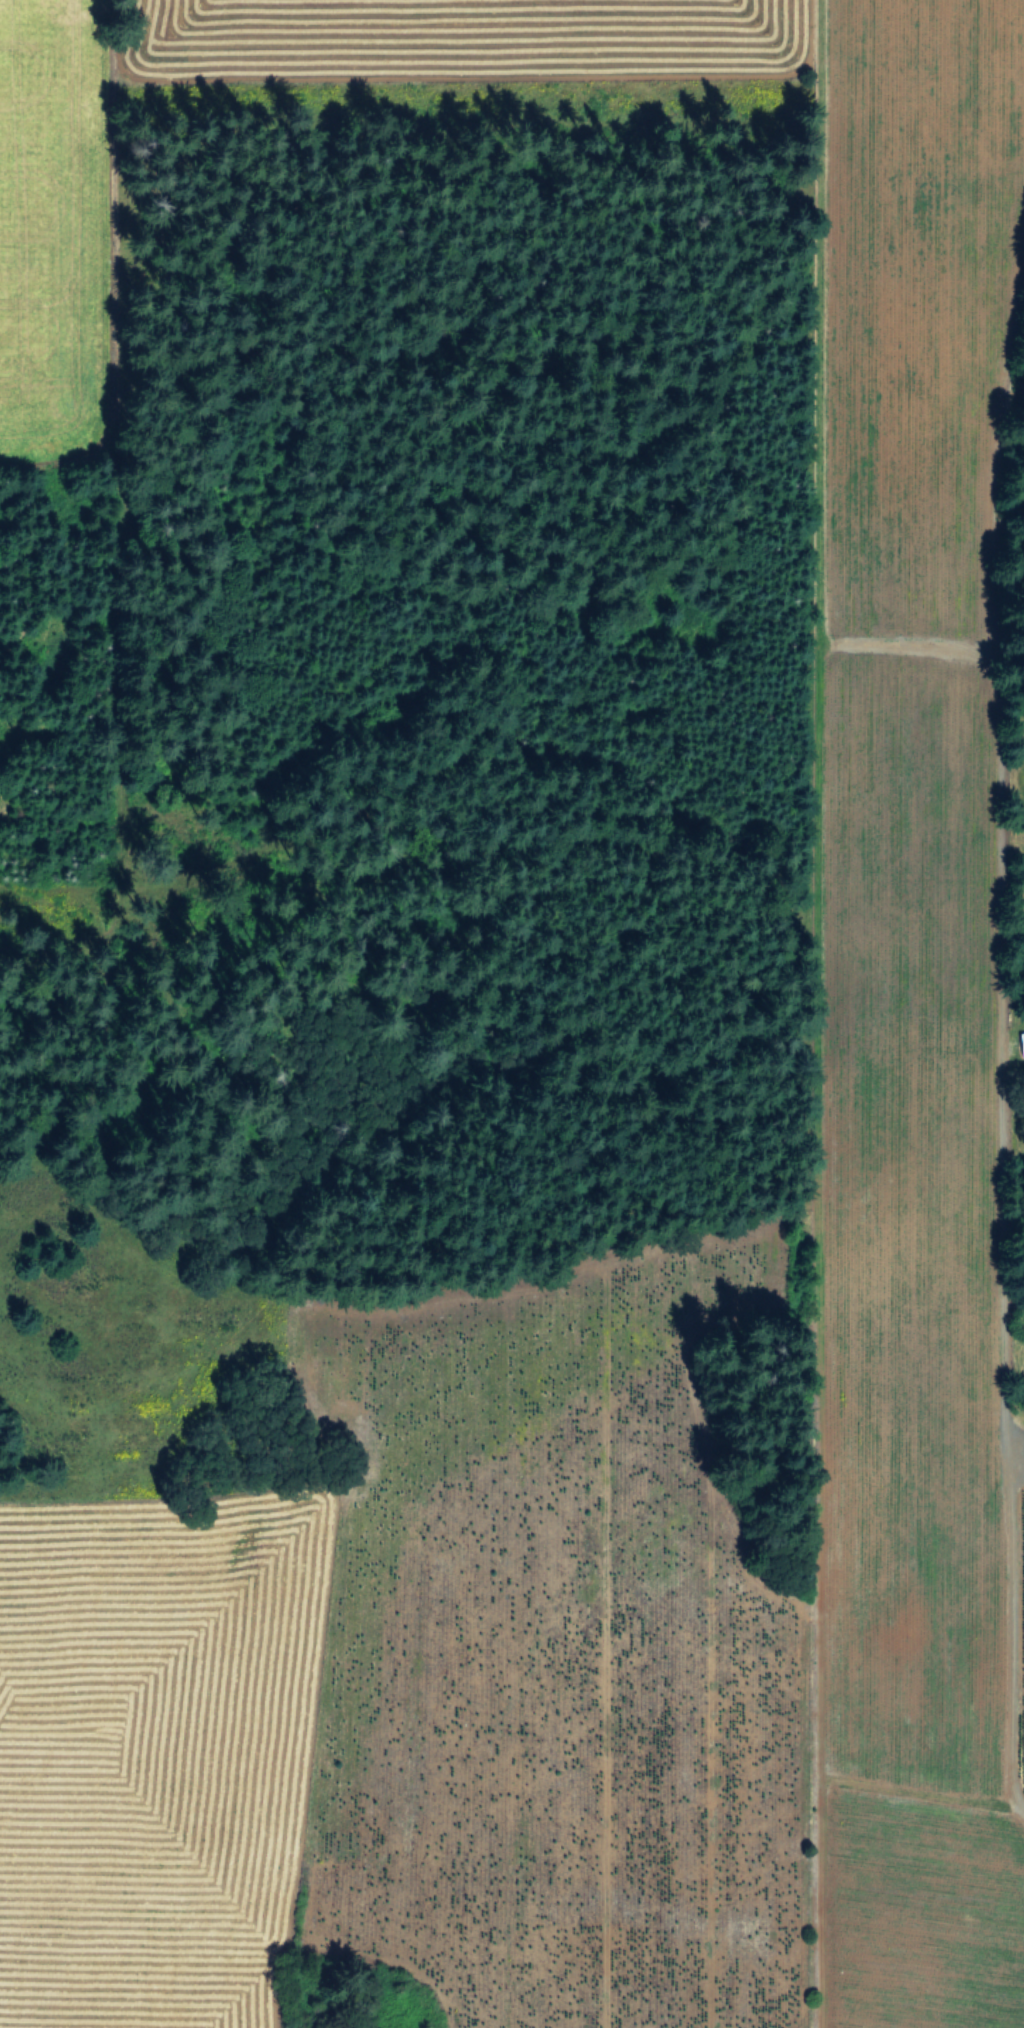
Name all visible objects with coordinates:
road: (107, 280)
building: (1020, 1042)
road: (49, 1177)
road: (1007, 1430)

